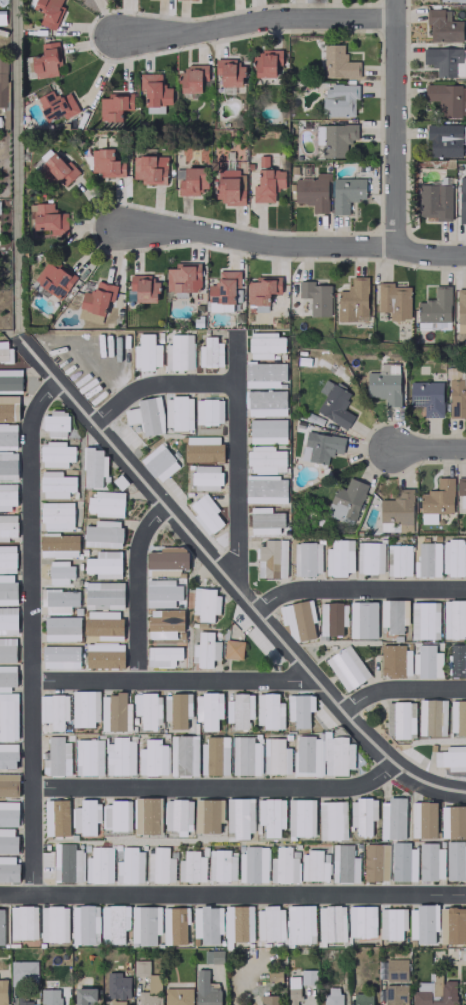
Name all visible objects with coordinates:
building: (450, 0)
building: (49, 12)
road: (255, 21)
building: (443, 26)
building: (46, 60)
building: (445, 61)
building: (266, 62)
building: (338, 63)
building: (229, 71)
building: (192, 78)
building: (3, 81)
building: (154, 92)
building: (447, 98)
building: (339, 99)
building: (56, 105)
building: (114, 105)
road: (396, 124)
building: (337, 138)
building: (444, 140)
building: (41, 158)
road: (15, 162)
building: (106, 163)
building: (149, 169)
building: (58, 170)
building: (192, 181)
building: (267, 182)
building: (230, 187)
building: (313, 192)
building: (346, 193)
building: (462, 200)
building: (434, 201)
building: (49, 219)
road: (292, 245)
building: (183, 277)
building: (54, 279)
building: (144, 287)
building: (223, 291)
building: (262, 291)
building: (98, 297)
building: (316, 297)
building: (353, 300)
building: (394, 300)
building: (461, 306)
building: (435, 310)
building: (90, 316)
building: (265, 344)
building: (4, 351)
building: (179, 351)
building: (146, 352)
building: (210, 352)
building: (264, 374)
building: (10, 379)
road: (159, 383)
building: (384, 383)
building: (427, 397)
building: (457, 397)
building: (332, 401)
building: (266, 402)
building: (8, 408)
building: (209, 411)
building: (178, 412)
building: (147, 416)
building: (56, 423)
building: (267, 430)
building: (7, 436)
building: (321, 446)
building: (203, 449)
road: (428, 449)
building: (56, 454)
road: (237, 458)
building: (265, 459)
building: (159, 462)
building: (8, 465)
building: (93, 466)
building: (206, 477)
building: (56, 484)
building: (460, 485)
building: (266, 489)
building: (7, 495)
building: (347, 500)
building: (436, 500)
building: (105, 503)
building: (398, 510)
building: (206, 513)
building: (57, 515)
building: (265, 520)
building: (7, 526)
building: (389, 526)
building: (103, 533)
building: (59, 545)
building: (339, 557)
building: (369, 557)
building: (453, 557)
building: (7, 558)
building: (272, 558)
building: (306, 558)
building: (167, 560)
building: (398, 560)
building: (427, 560)
building: (104, 564)
building: (61, 572)
road: (231, 582)
building: (7, 589)
road: (137, 589)
road: (358, 590)
building: (162, 593)
building: (103, 594)
building: (60, 600)
building: (205, 603)
building: (394, 614)
building: (332, 618)
building: (363, 619)
building: (454, 619)
building: (8, 620)
building: (298, 620)
building: (424, 620)
building: (165, 622)
building: (103, 625)
building: (62, 628)
road: (32, 634)
building: (7, 649)
building: (205, 649)
building: (233, 649)
building: (104, 655)
building: (60, 656)
building: (163, 656)
building: (395, 660)
building: (457, 660)
building: (346, 667)
building: (7, 677)
road: (172, 682)
road: (400, 688)
building: (85, 708)
building: (148, 709)
building: (177, 709)
building: (208, 709)
building: (299, 709)
building: (54, 710)
building: (239, 710)
building: (268, 710)
building: (115, 712)
building: (8, 716)
building: (431, 717)
building: (458, 717)
building: (400, 719)
building: (8, 755)
building: (184, 755)
building: (215, 755)
building: (323, 755)
building: (89, 756)
building: (245, 756)
building: (276, 756)
building: (56, 757)
building: (120, 757)
building: (451, 757)
building: (153, 758)
building: (8, 784)
road: (217, 788)
building: (8, 813)
building: (117, 815)
building: (148, 815)
building: (178, 815)
building: (208, 815)
building: (271, 815)
building: (362, 815)
building: (86, 816)
building: (239, 816)
building: (56, 817)
building: (301, 817)
building: (392, 818)
building: (423, 819)
building: (332, 820)
building: (453, 821)
building: (7, 840)
building: (403, 861)
building: (456, 861)
building: (67, 862)
building: (376, 862)
building: (431, 862)
building: (253, 863)
building: (344, 863)
building: (99, 865)
building: (222, 865)
building: (284, 865)
building: (130, 866)
building: (159, 866)
building: (313, 866)
building: (191, 867)
building: (8, 868)
road: (232, 894)
building: (361, 921)
building: (23, 922)
building: (53, 923)
building: (114, 923)
building: (238, 923)
building: (270, 923)
building: (331, 923)
building: (391, 923)
building: (422, 923)
building: (85, 924)
building: (207, 924)
building: (300, 924)
building: (144, 925)
building: (175, 925)
building: (452, 925)
building: (1, 927)
building: (213, 956)
building: (23, 973)
building: (393, 982)
building: (153, 984)
building: (117, 985)
building: (205, 989)
building: (293, 990)
building: (2, 991)
building: (50, 996)
building: (84, 996)
building: (178, 996)
building: (331, 996)
building: (149, 998)
building: (361, 998)
building: (268, 1000)
building: (24, 1001)
building: (117, 1002)

